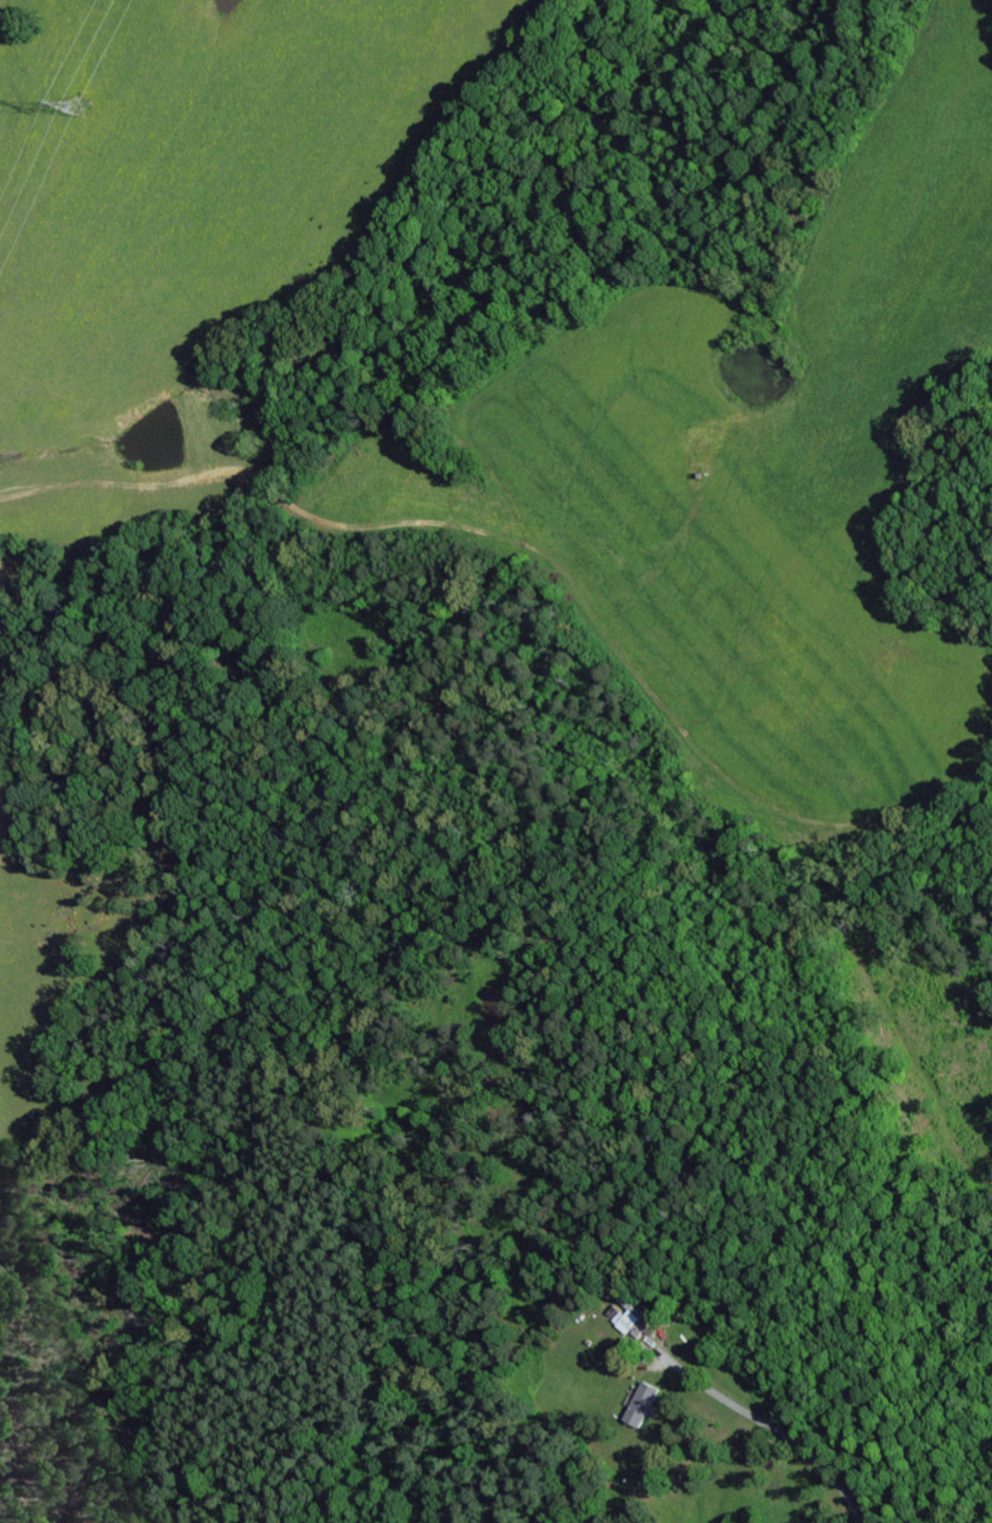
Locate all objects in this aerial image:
power tower: (82, 109)
building: (629, 1316)
building: (641, 1405)
road: (772, 1427)

